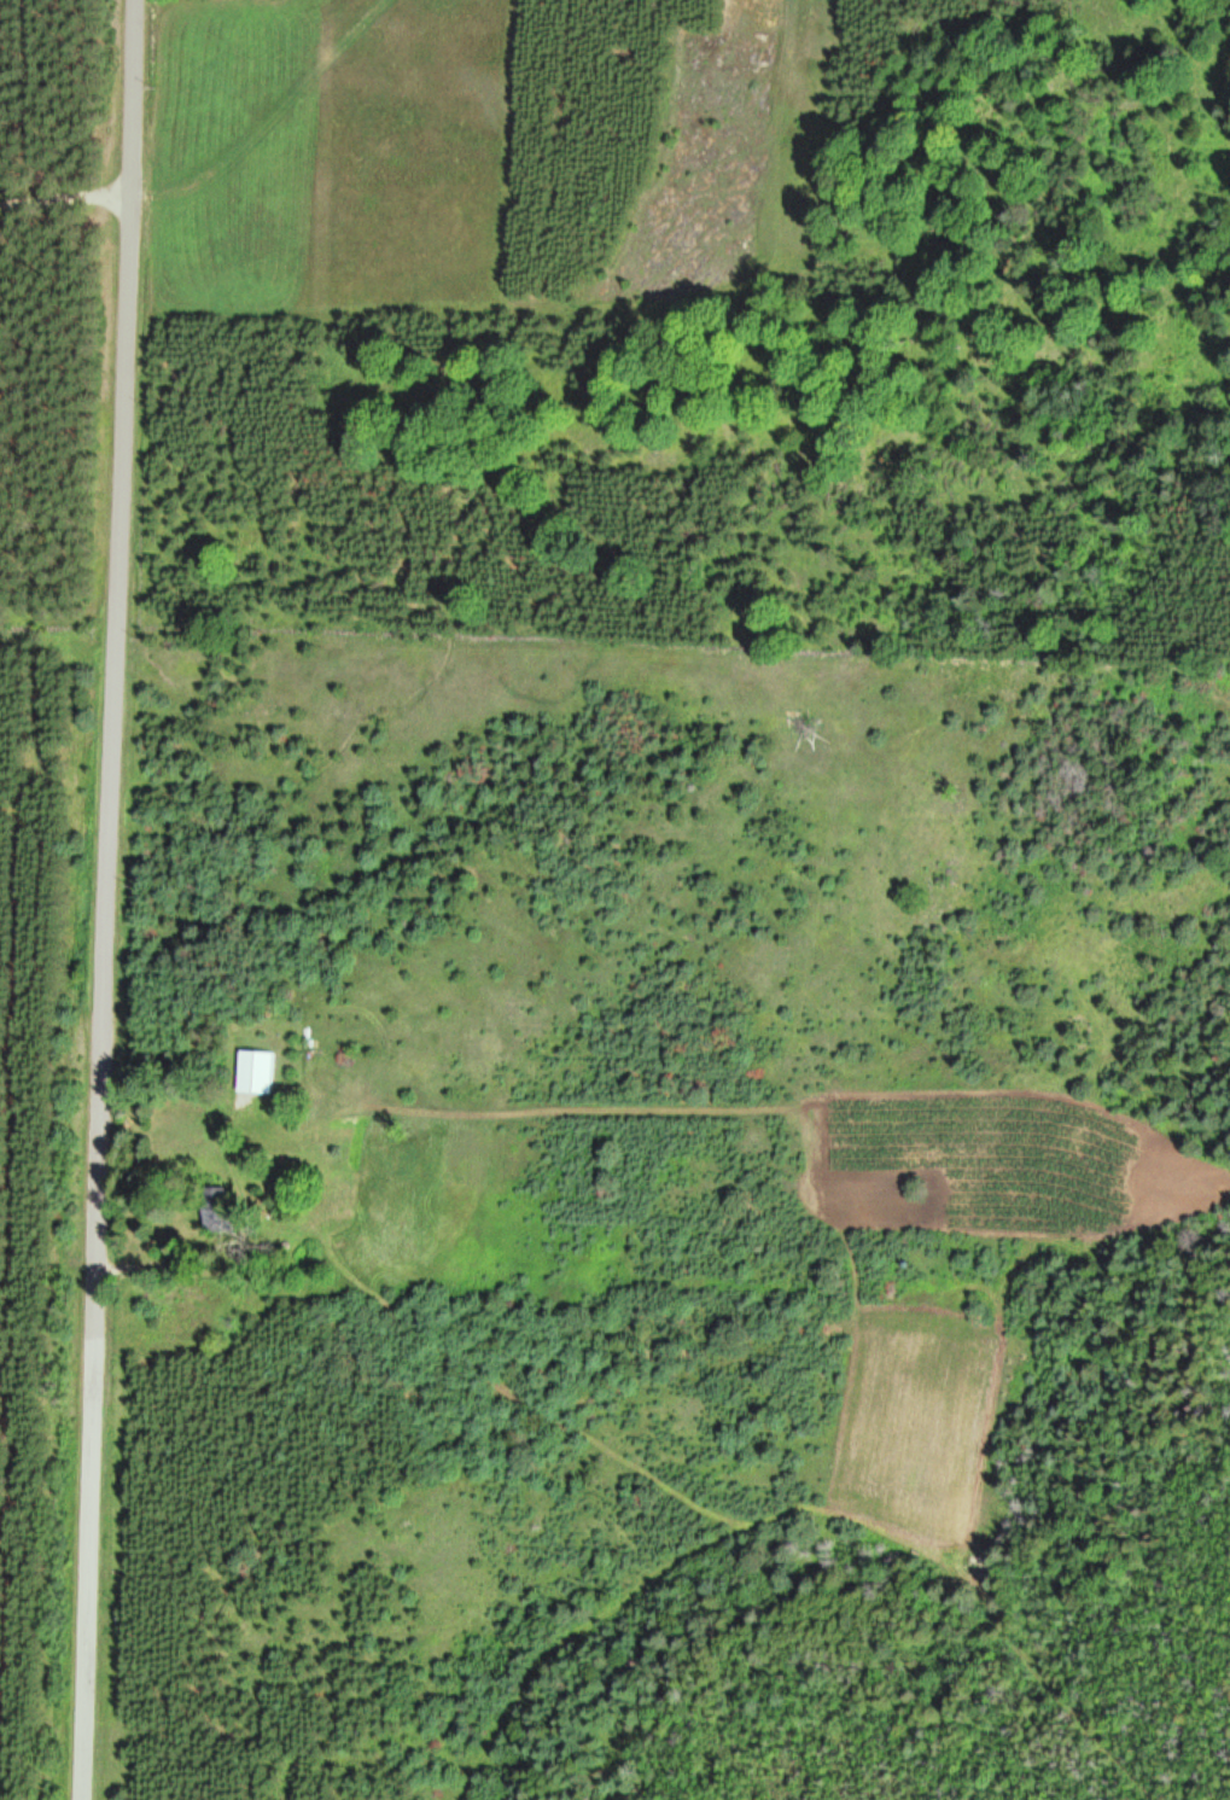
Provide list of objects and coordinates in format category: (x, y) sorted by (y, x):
road: (272, 118)
road: (64, 198)
road: (105, 899)

